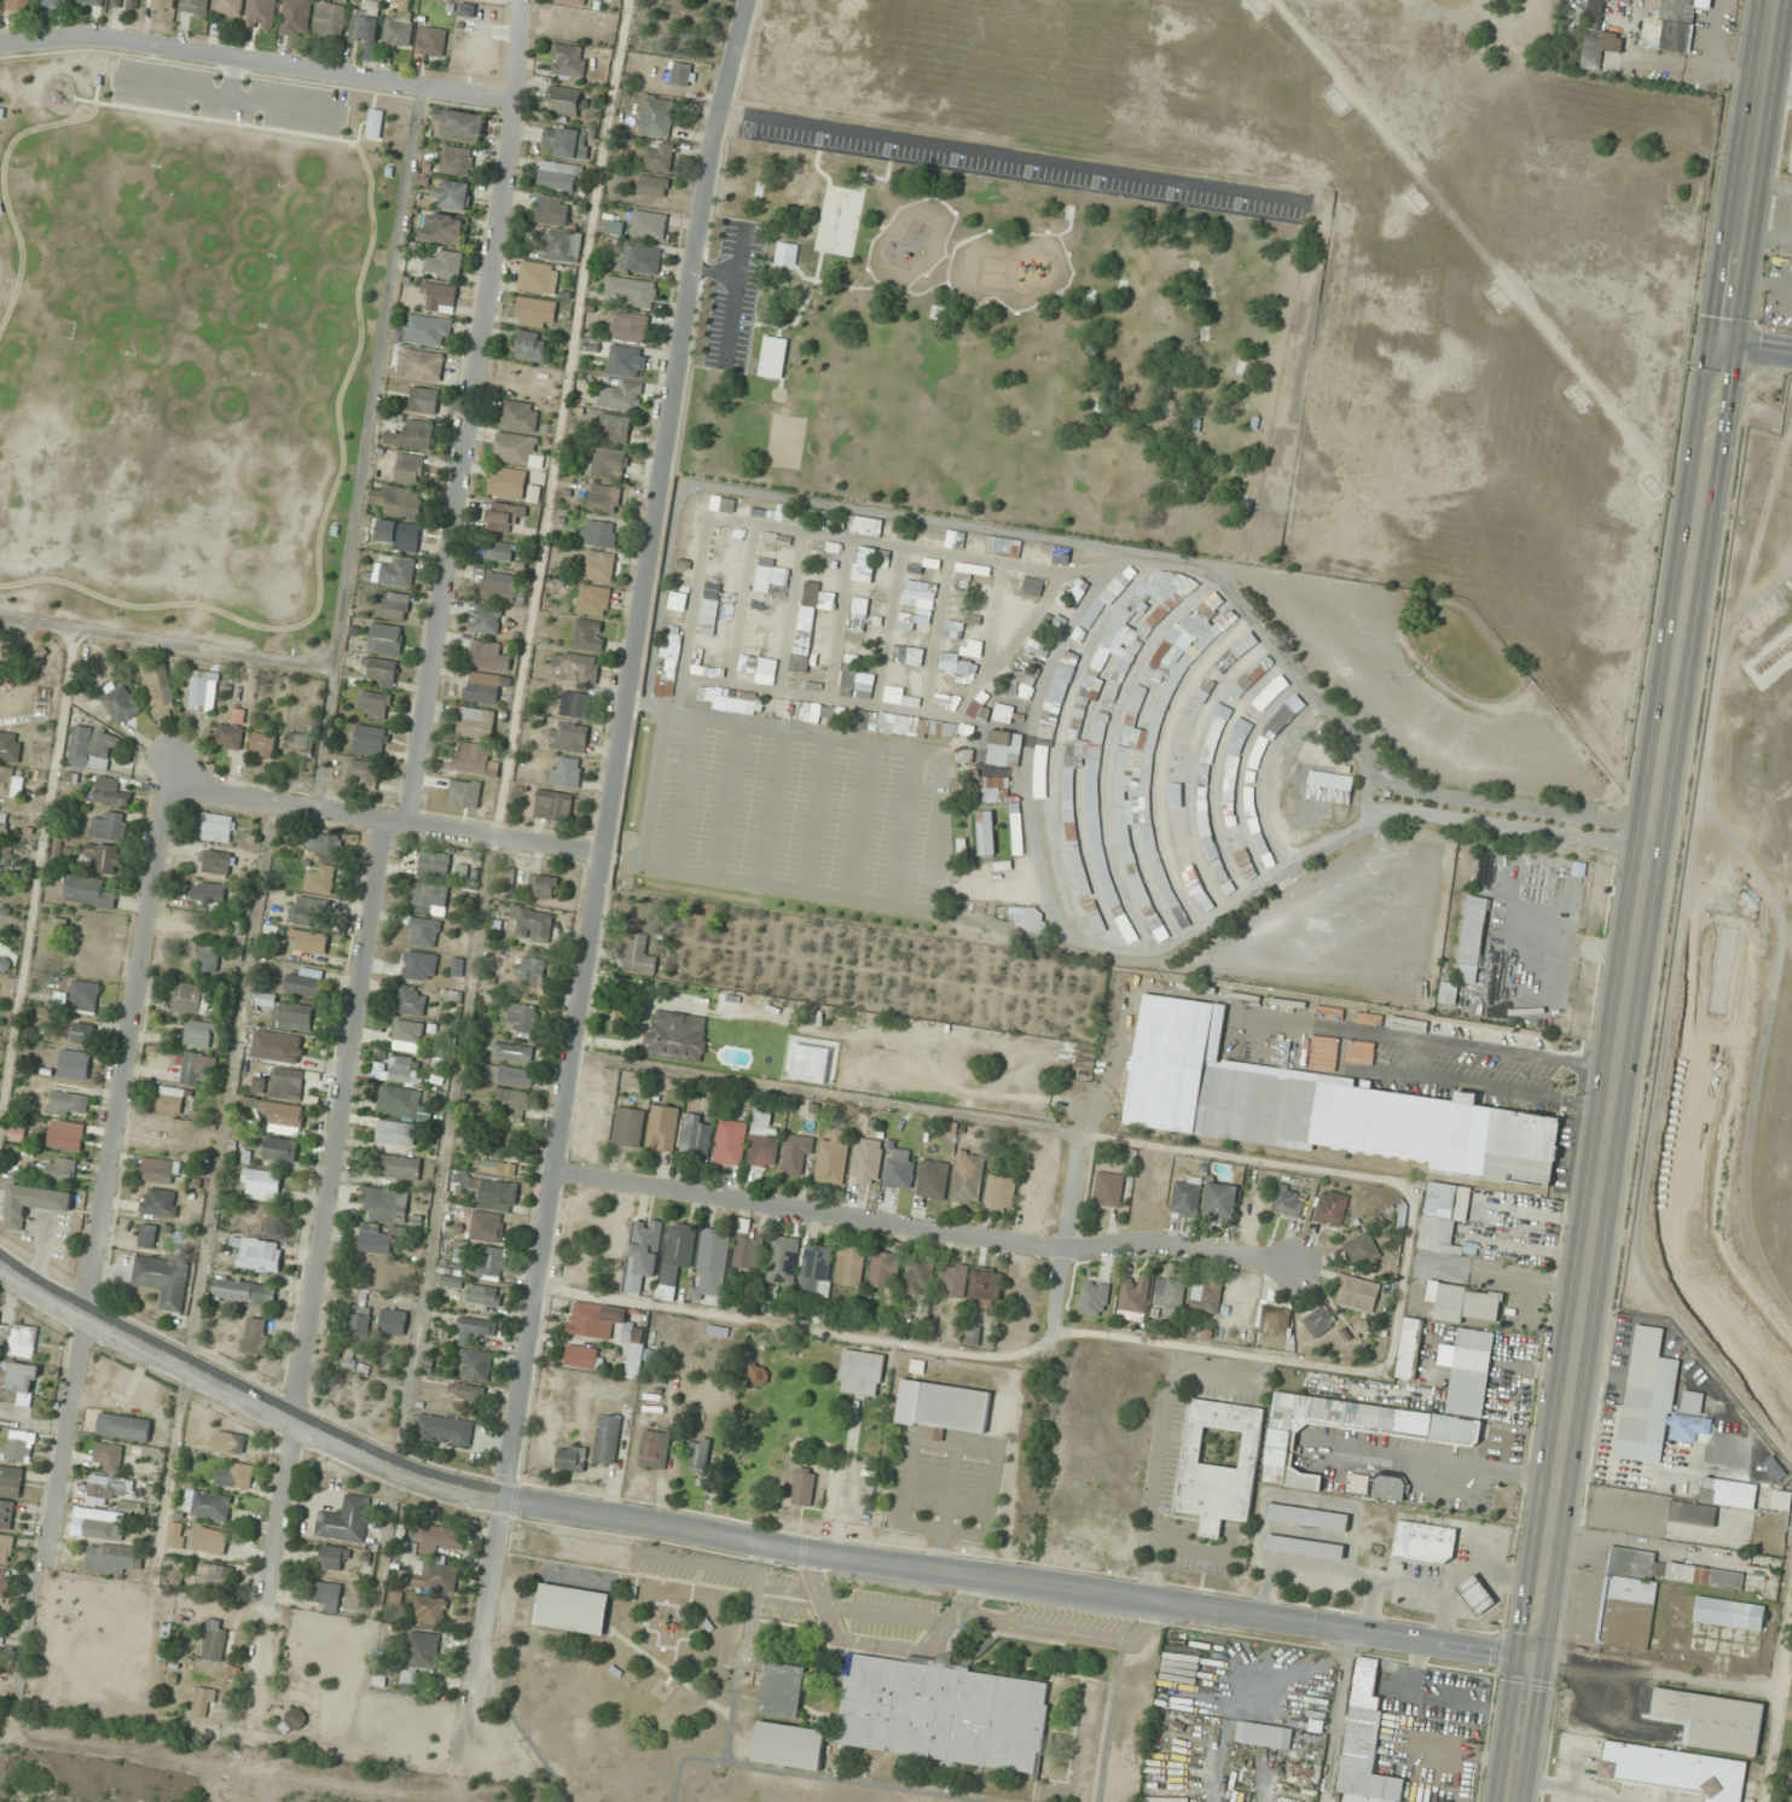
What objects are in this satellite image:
building: (570, 1)
building: (51, 2)
building: (91, 2)
building: (124, 4)
building: (162, 5)
building: (19, 6)
building: (193, 7)
building: (227, 7)
building: (261, 14)
building: (295, 17)
building: (329, 19)
building: (364, 22)
building: (1668, 24)
building: (398, 27)
building: (1596, 36)
building: (430, 41)
building: (567, 60)
road: (260, 64)
building: (680, 74)
building: (563, 100)
building: (656, 116)
building: (375, 124)
building: (459, 126)
building: (567, 141)
building: (659, 157)
building: (456, 161)
parking lot: (1021, 162)
building: (557, 175)
building: (653, 185)
building: (759, 188)
building: (453, 194)
road: (1295, 203)
building: (552, 209)
building: (1067, 213)
park: (837, 219)
building: (648, 223)
road: (883, 227)
building: (442, 228)
building: (558, 246)
road: (946, 256)
building: (640, 258)
building: (450, 263)
building: (1194, 271)
building: (538, 277)
road: (887, 283)
building: (1120, 285)
road: (923, 290)
building: (632, 291)
parking lot: (735, 295)
building: (440, 296)
road: (959, 302)
road: (729, 303)
road: (801, 307)
building: (534, 313)
building: (934, 313)
building: (631, 327)
building: (428, 330)
building: (529, 345)
road: (1758, 347)
park: (1003, 350)
building: (1090, 350)
building: (773, 355)
building: (627, 361)
building: (419, 364)
building: (1239, 370)
building: (624, 396)
building: (423, 400)
building: (1098, 405)
road: (471, 411)
building: (520, 415)
park: (887, 420)
building: (1196, 424)
building: (1253, 426)
building: (613, 428)
building: (412, 435)
park: (785, 441)
building: (516, 449)
building: (605, 463)
building: (408, 467)
building: (506, 482)
building: (1181, 488)
building: (603, 498)
building: (396, 500)
building: (504, 516)
building: (888, 529)
building: (598, 533)
building: (399, 534)
building: (500, 551)
building: (1061, 554)
building: (599, 565)
building: (396, 570)
building: (1032, 586)
building: (499, 587)
building: (1077, 587)
building: (918, 594)
building: (1109, 594)
building: (593, 600)
building: (394, 605)
building: (485, 618)
building: (708, 621)
building: (1059, 622)
building: (588, 634)
building: (385, 639)
building: (1239, 647)
building: (1037, 649)
building: (1073, 650)
building: (487, 655)
building: (906, 655)
building: (800, 656)
building: (957, 663)
building: (575, 667)
building: (853, 676)
building: (667, 679)
building: (1017, 684)
building: (1207, 684)
building: (482, 687)
building: (158, 690)
building: (203, 690)
building: (1112, 691)
building: (373, 703)
building: (121, 704)
building: (576, 704)
building: (1054, 704)
building: (979, 711)
building: (476, 723)
building: (950, 728)
building: (230, 736)
building: (568, 737)
building: (1213, 738)
building: (370, 740)
building: (263, 743)
building: (298, 743)
building: (10, 746)
building: (1004, 748)
building: (92, 749)
building: (963, 755)
building: (1135, 757)
building: (472, 760)
building: (566, 772)
building: (363, 774)
building: (11, 780)
building: (1330, 780)
building: (994, 789)
building: (110, 791)
building: (552, 804)
building: (1177, 812)
road: (607, 815)
building: (2, 819)
road: (383, 820)
building: (109, 826)
building: (216, 827)
building: (986, 832)
building: (0, 837)
building: (1258, 838)
building: (323, 847)
building: (103, 858)
building: (215, 861)
building: (434, 864)
building: (1217, 864)
building: (319, 879)
building: (543, 885)
building: (88, 891)
building: (209, 891)
building: (429, 897)
building: (1204, 899)
road: (1642, 901)
building: (305, 911)
building: (1094, 917)
building: (533, 923)
building: (59, 925)
building: (423, 931)
building: (1471, 938)
building: (307, 941)
building: (638, 954)
building: (208, 957)
building: (419, 965)
building: (530, 967)
building: (303, 982)
airport: (1730, 987)
building: (1448, 992)
building: (85, 995)
building: (190, 996)
building: (410, 999)
building: (291, 1015)
building: (522, 1017)
building: (407, 1029)
building: (82, 1033)
building: (199, 1034)
building: (677, 1035)
building: (273, 1045)
building: (512, 1052)
building: (74, 1064)
building: (196, 1068)
building: (402, 1069)
building: (508, 1074)
building: (280, 1083)
building: (172, 1099)
building: (512, 1099)
building: (68, 1103)
building: (401, 1103)
building: (1317, 1105)
building: (278, 1115)
building: (627, 1127)
building: (395, 1132)
building: (661, 1132)
building: (696, 1134)
building: (65, 1135)
building: (762, 1138)
building: (729, 1143)
building: (279, 1150)
building: (796, 1155)
building: (831, 1159)
building: (865, 1159)
building: (398, 1167)
building: (498, 1168)
building: (899, 1168)
building: (60, 1169)
building: (158, 1170)
building: (967, 1178)
building: (932, 1179)
building: (260, 1185)
building: (1108, 1188)
building: (1001, 1192)
building: (494, 1193)
building: (1185, 1197)
building: (161, 1202)
building: (1219, 1202)
building: (1287, 1202)
building: (33, 1203)
building: (379, 1204)
building: (1330, 1208)
road: (324, 1210)
building: (1443, 1216)
road: (97, 1219)
building: (486, 1226)
road: (924, 1226)
building: (146, 1236)
road: (1071, 1244)
building: (645, 1246)
building: (747, 1248)
building: (1361, 1249)
building: (257, 1254)
building: (674, 1257)
building: (712, 1261)
building: (488, 1262)
building: (783, 1266)
building: (848, 1266)
building: (883, 1269)
building: (814, 1271)
building: (917, 1277)
building: (163, 1279)
building: (952, 1279)
building: (984, 1287)
building: (244, 1291)
building: (1168, 1291)
building: (1356, 1292)
building: (482, 1294)
building: (1132, 1294)
building: (1205, 1296)
building: (1092, 1298)
building: (1463, 1302)
building: (1272, 1320)
building: (1318, 1320)
building: (358, 1321)
building: (392, 1321)
building: (474, 1329)
building: (608, 1330)
building: (717, 1331)
building: (255, 1336)
building: (18, 1338)
building: (1408, 1348)
building: (347, 1356)
building: (580, 1356)
building: (474, 1364)
building: (1469, 1372)
building: (860, 1373)
building: (756, 1376)
building: (22, 1384)
building: (1692, 1390)
building: (464, 1391)
building: (1652, 1402)
building: (943, 1406)
building: (123, 1426)
building: (1735, 1429)
building: (443, 1430)
building: (607, 1431)
building: (1433, 1431)
building: (230, 1442)
building: (19, 1446)
building: (654, 1449)
building: (696, 1455)
building: (112, 1458)
building: (570, 1458)
building: (1219, 1464)
building: (234, 1476)
building: (10, 1481)
building: (802, 1487)
building: (1388, 1488)
building: (105, 1489)
building: (1721, 1493)
building: (207, 1505)
building: (1690, 1512)
building: (4, 1516)
building: (1306, 1517)
building: (344, 1521)
building: (103, 1528)
building: (174, 1534)
building: (440, 1539)
road: (741, 1539)
building: (1423, 1541)
building: (210, 1544)
building: (1304, 1546)
building: (5, 1547)
building: (112, 1558)
building: (332, 1558)
building: (213, 1576)
building: (434, 1576)
building: (4, 1583)
building: (1474, 1593)
building: (1643, 1593)
building: (324, 1597)
building: (572, 1609)
building: (429, 1610)
road: (878, 1612)
building: (1728, 1614)
road: (1050, 1629)
building: (214, 1640)
road: (876, 1645)
building: (422, 1650)
traffic signals: (1531, 1659)
building: (781, 1690)
building: (203, 1702)
building: (940, 1713)
building: (295, 1717)
building: (1711, 1720)
building: (1263, 1734)
building: (1364, 1740)
building: (788, 1745)
building: (1674, 1771)

